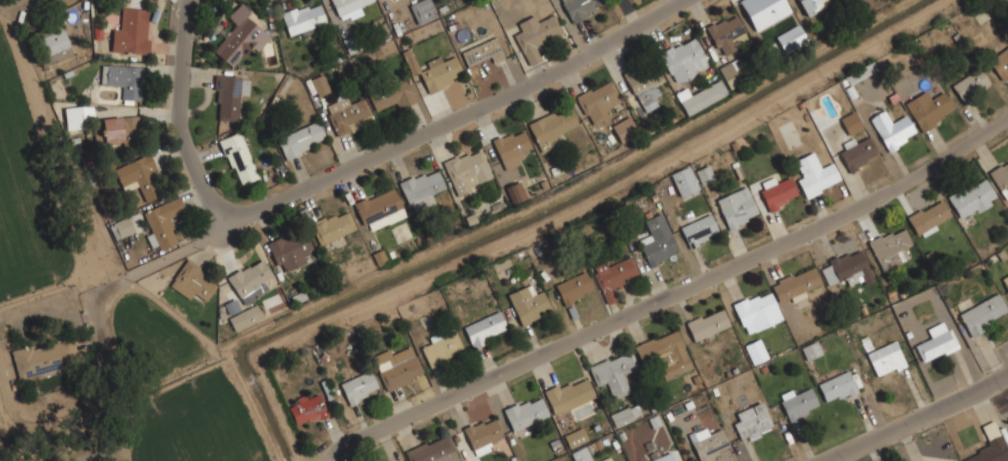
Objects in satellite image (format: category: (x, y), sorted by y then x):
building: (811, 5)
building: (348, 8)
building: (580, 8)
building: (422, 10)
building: (764, 11)
building: (302, 17)
building: (132, 31)
building: (725, 32)
building: (532, 36)
building: (241, 39)
building: (792, 39)
building: (51, 43)
building: (481, 52)
building: (683, 58)
building: (410, 61)
building: (1000, 61)
building: (438, 72)
building: (861, 73)
building: (124, 78)
building: (970, 83)
building: (318, 84)
building: (645, 85)
building: (393, 94)
building: (229, 95)
building: (703, 96)
building: (597, 101)
building: (929, 109)
road: (470, 113)
building: (347, 114)
building: (77, 115)
building: (851, 121)
road: (179, 123)
building: (551, 127)
building: (623, 128)
building: (113, 129)
building: (893, 131)
building: (301, 139)
building: (511, 147)
building: (858, 152)
building: (238, 158)
building: (467, 170)
building: (704, 174)
building: (814, 174)
building: (138, 175)
building: (1001, 178)
building: (684, 180)
building: (421, 187)
building: (516, 190)
building: (777, 192)
building: (972, 198)
building: (736, 207)
building: (378, 208)
crop: (20, 216)
building: (928, 216)
building: (162, 222)
building: (121, 226)
building: (332, 226)
building: (699, 230)
building: (657, 242)
building: (889, 246)
building: (289, 251)
building: (845, 267)
building: (615, 273)
building: (249, 280)
building: (192, 281)
building: (796, 282)
building: (1005, 282)
building: (574, 287)
road: (673, 294)
building: (527, 304)
road: (99, 309)
building: (756, 311)
building: (980, 311)
building: (245, 316)
building: (707, 323)
building: (485, 328)
building: (936, 341)
building: (442, 347)
building: (810, 349)
building: (755, 350)
building: (664, 353)
building: (44, 357)
building: (887, 362)
building: (398, 372)
building: (613, 372)
building: (838, 386)
building: (359, 387)
building: (567, 395)
building: (798, 402)
building: (306, 408)
building: (524, 412)
building: (624, 414)
road: (917, 419)
building: (751, 422)
building: (482, 433)
building: (575, 437)
building: (709, 443)
building: (991, 445)
building: (432, 449)
building: (582, 454)
road: (99, 455)
building: (662, 457)
road: (334, 460)

